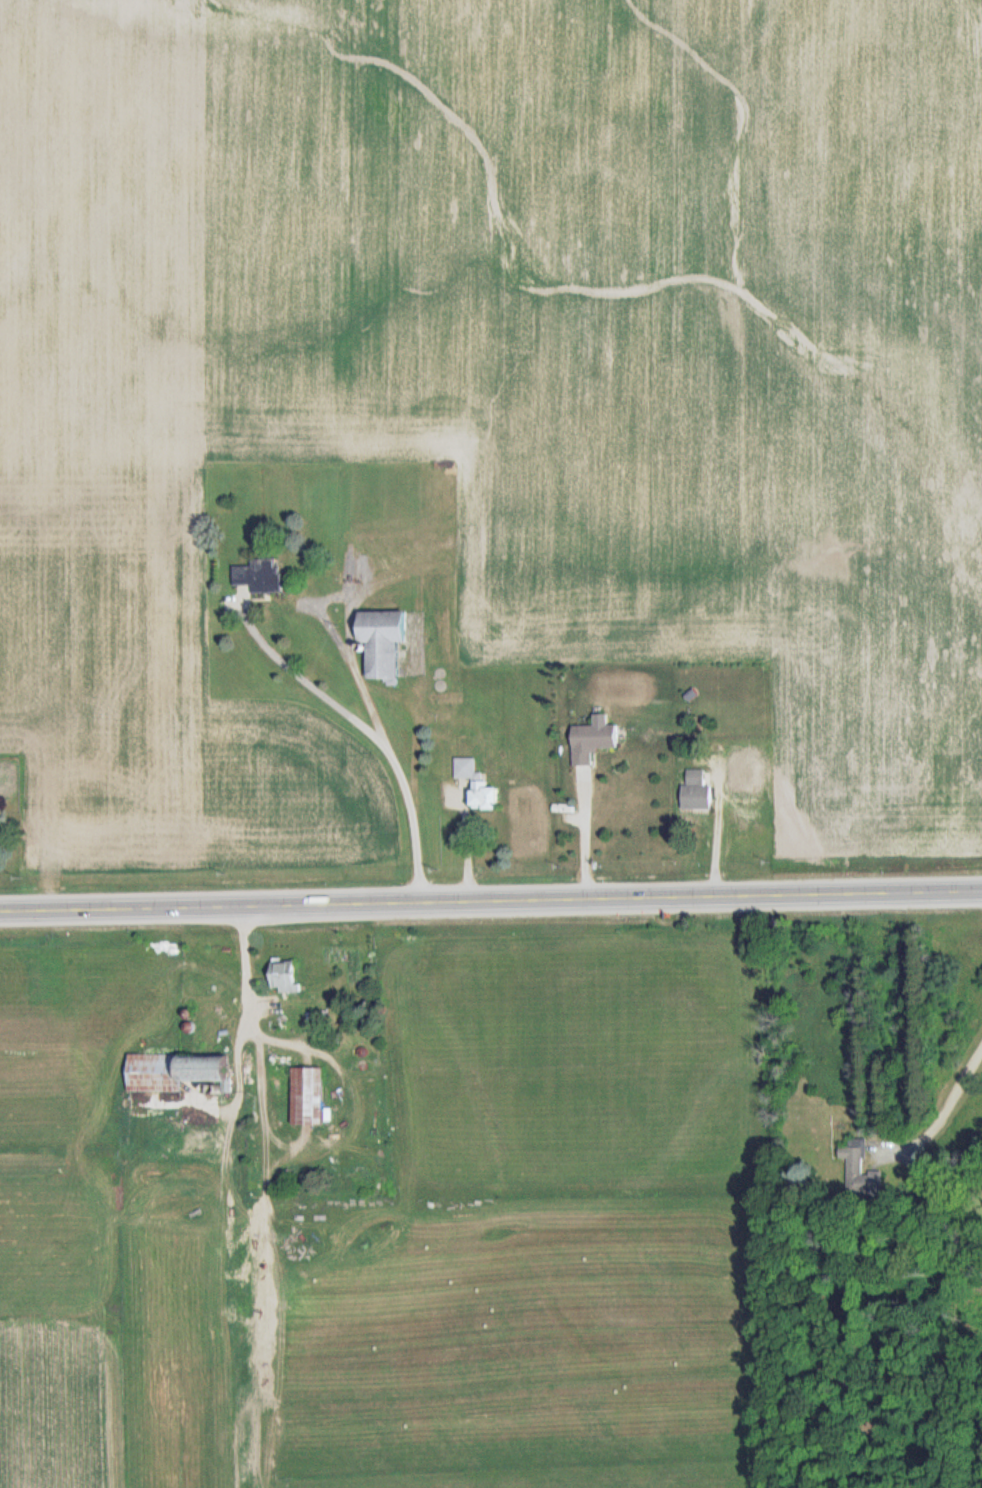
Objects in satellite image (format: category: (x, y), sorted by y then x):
building: (261, 576)
building: (384, 645)
building: (593, 742)
road: (387, 752)
building: (478, 783)
building: (697, 792)
road: (712, 834)
road: (579, 839)
road: (491, 901)
road: (241, 964)
building: (285, 976)
building: (174, 1071)
building: (309, 1096)
building: (859, 1170)

